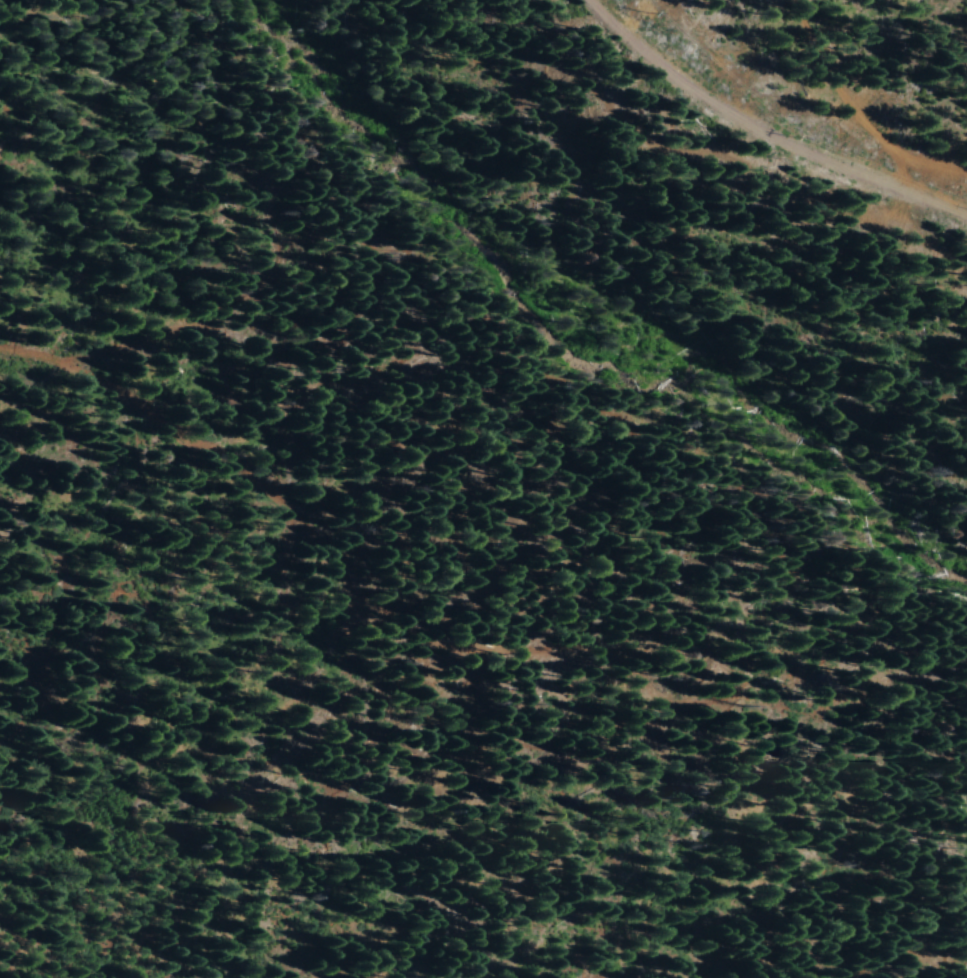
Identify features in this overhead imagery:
road: (882, 87)
railway: (767, 127)

